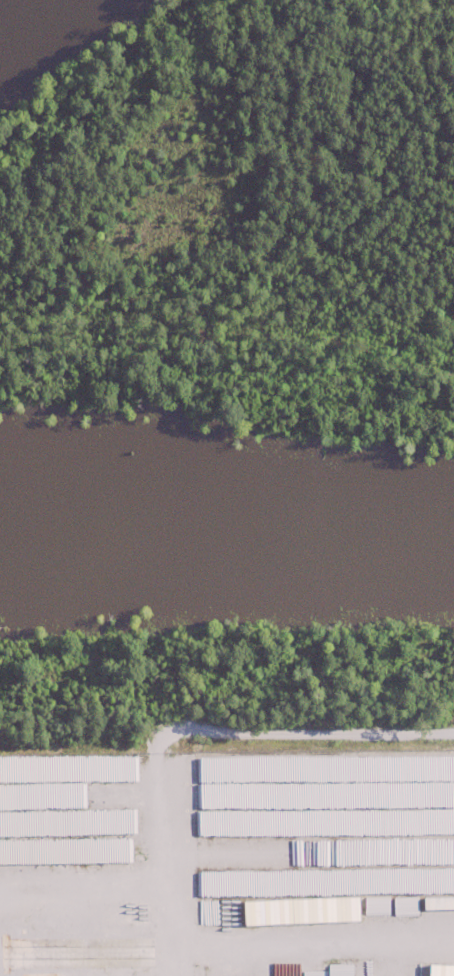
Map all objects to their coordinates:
road: (298, 738)
road: (164, 865)
building: (436, 902)
building: (68, 951)
building: (438, 970)

